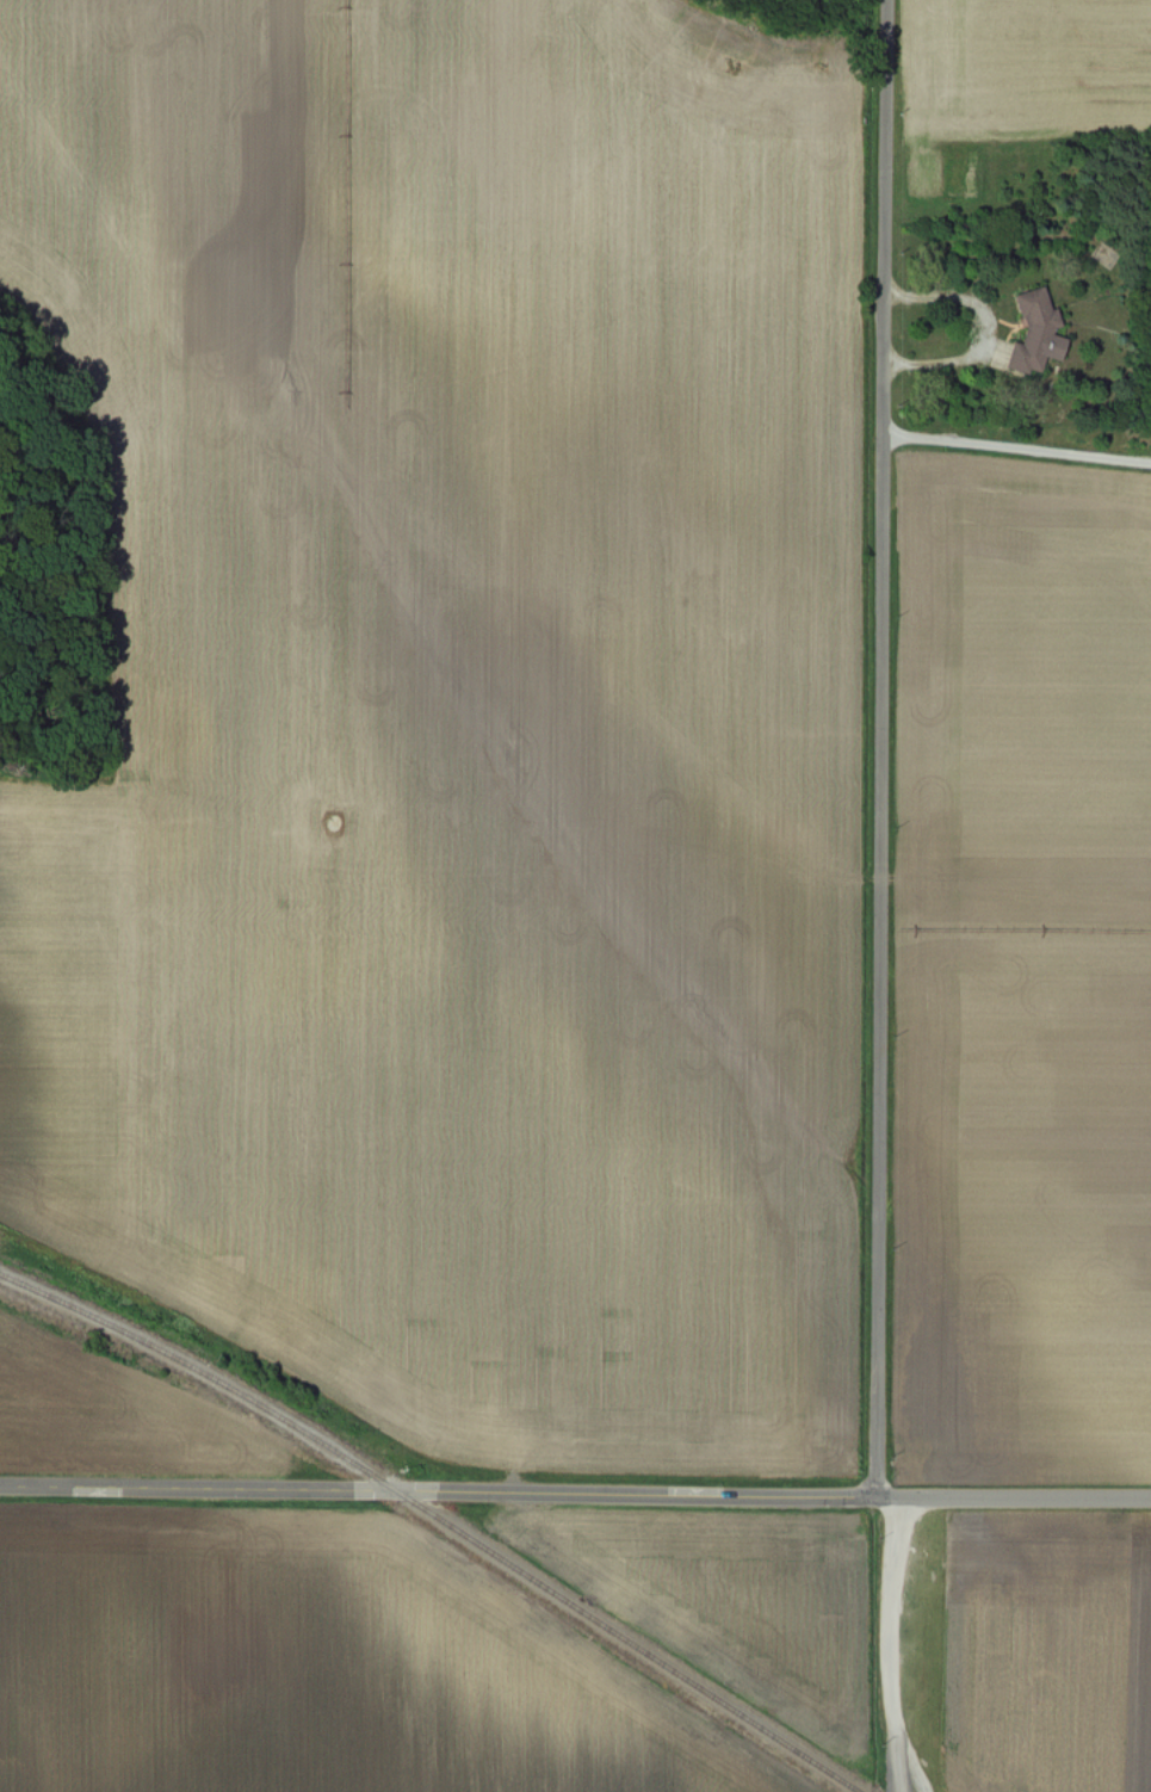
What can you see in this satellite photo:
road: (990, 327)
building: (1031, 332)
road: (1016, 449)
road: (879, 750)
road: (438, 1488)
road: (1014, 1501)
railway: (441, 1516)
road: (891, 1646)

